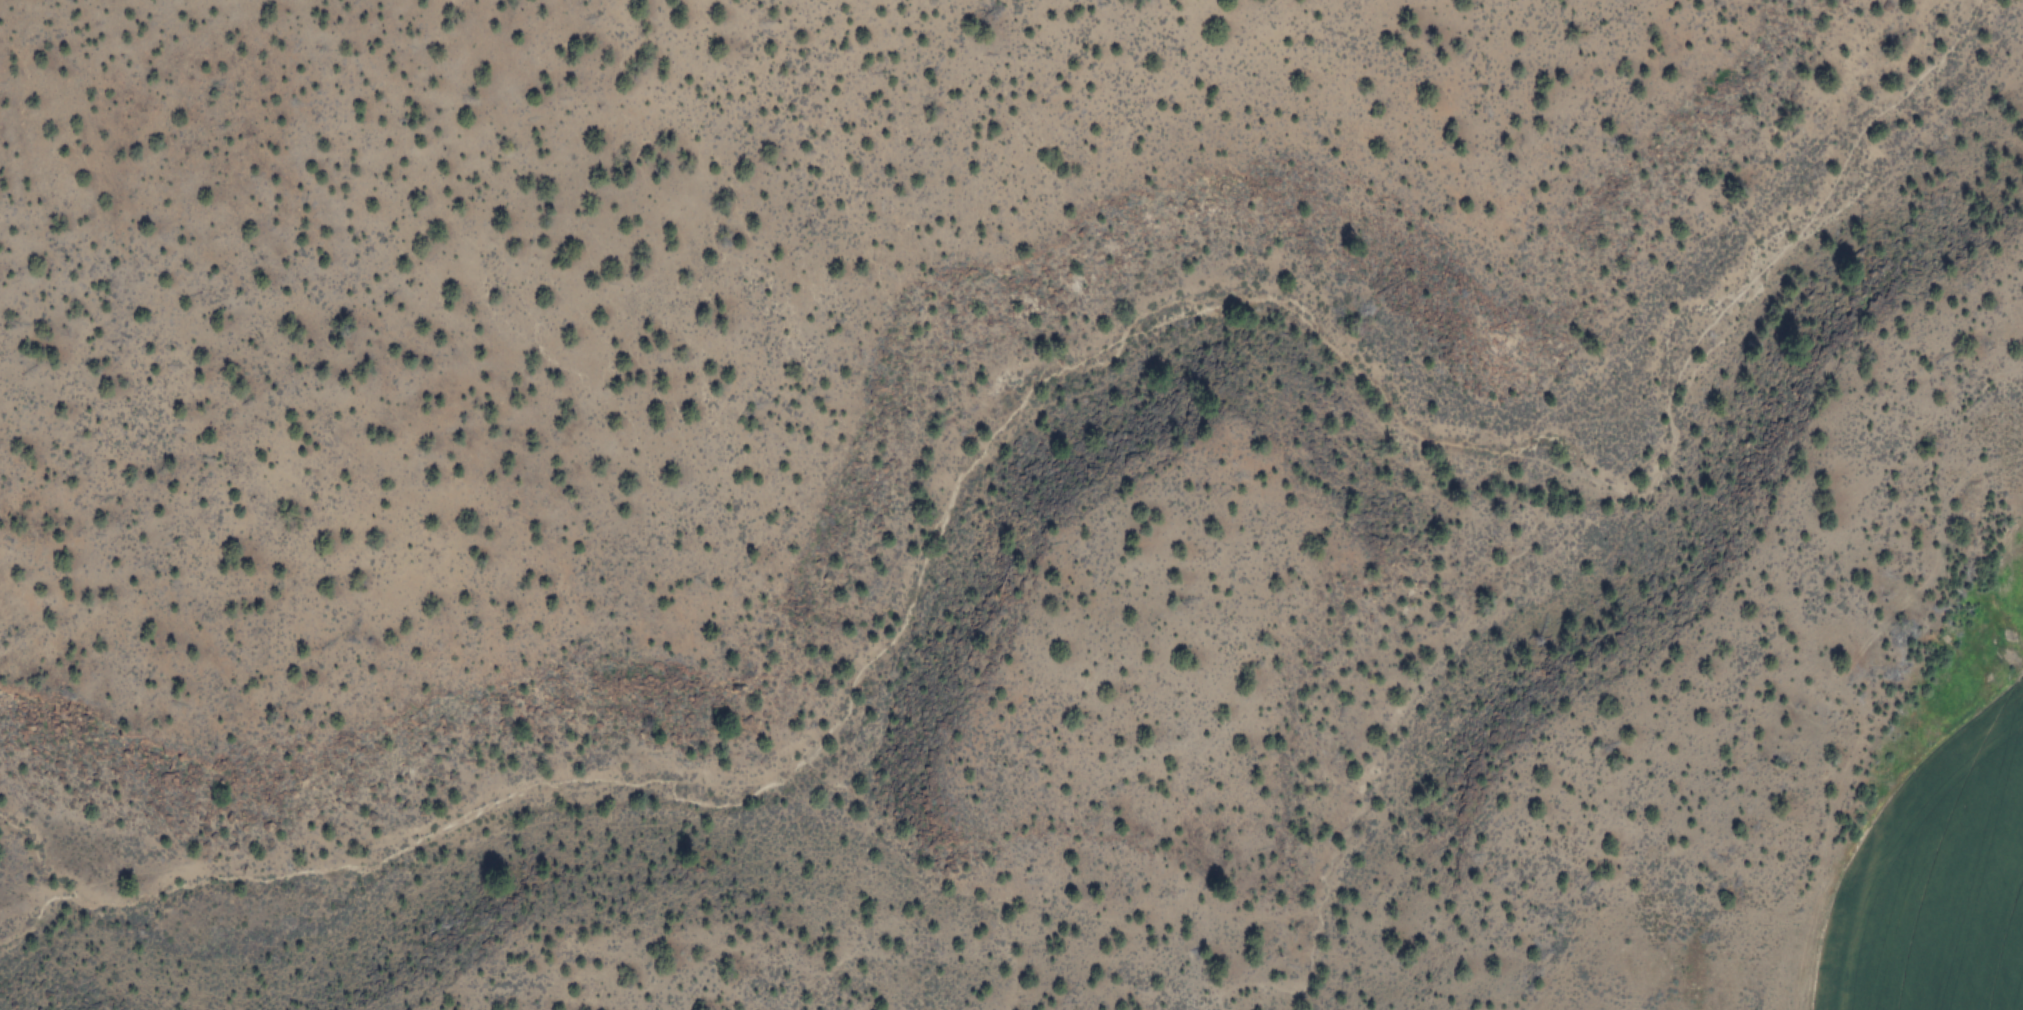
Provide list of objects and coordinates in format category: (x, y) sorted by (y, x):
crop: (1884, 791)

